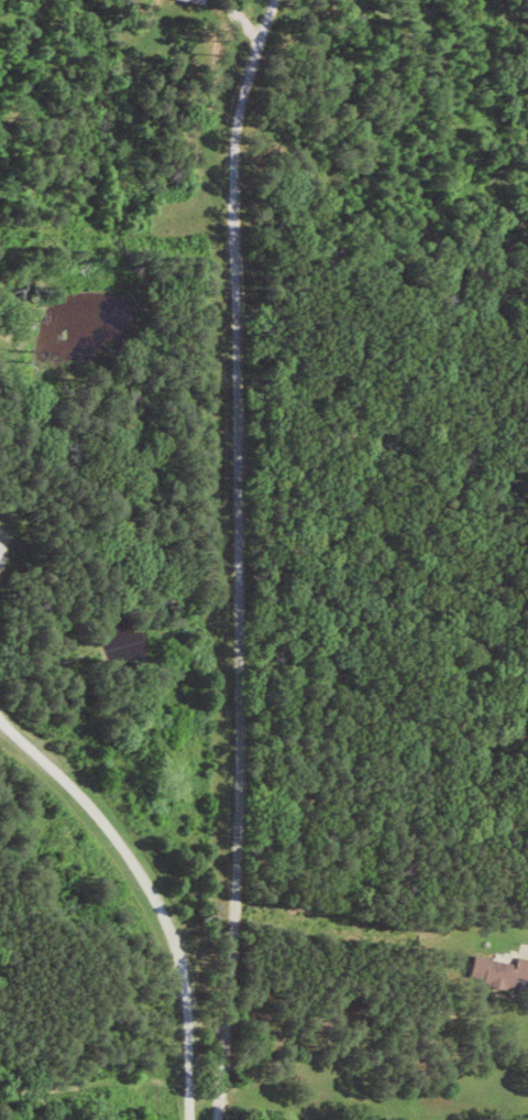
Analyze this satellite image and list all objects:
building: (207, 0)
road: (150, 899)
building: (502, 971)

